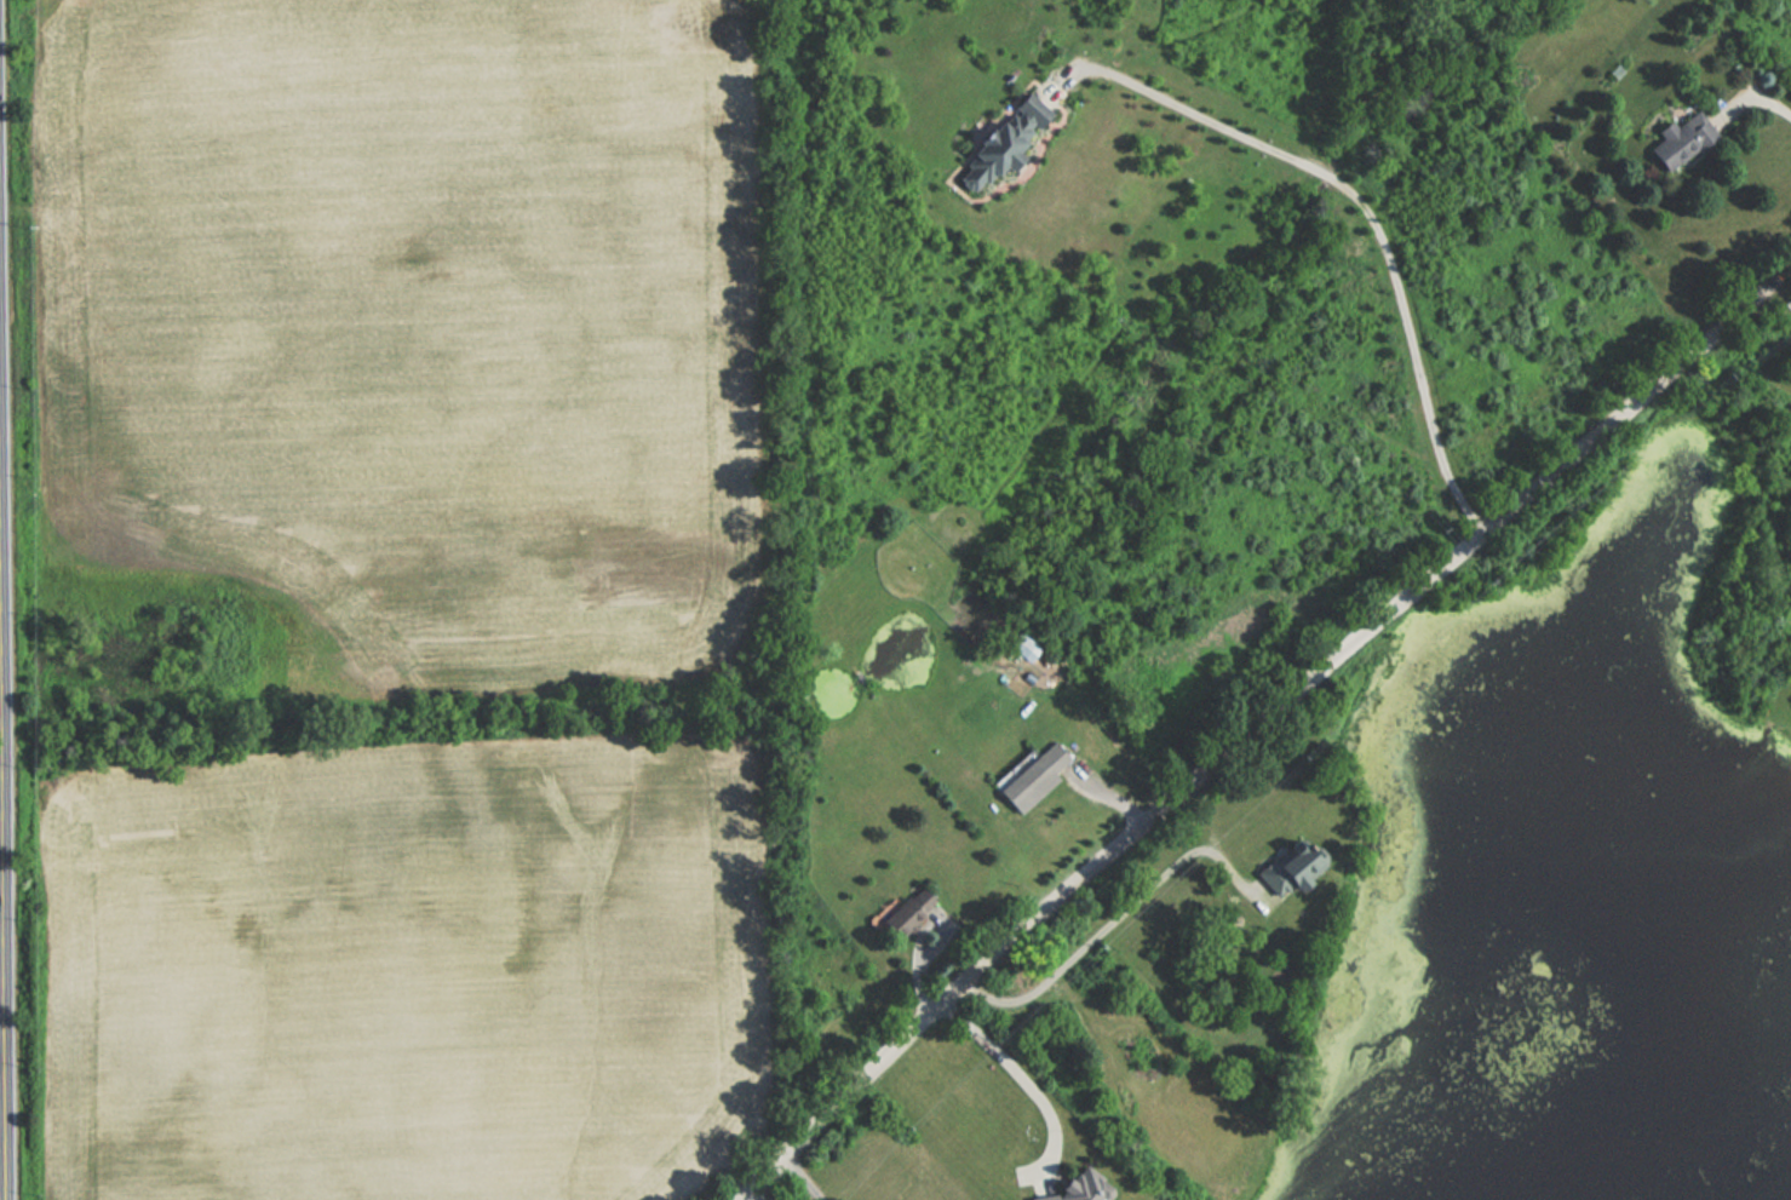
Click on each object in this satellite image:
road: (1757, 99)
road: (1188, 101)
building: (1680, 140)
building: (994, 148)
road: (1333, 172)
crop: (403, 323)
road: (1416, 352)
road: (1261, 729)
building: (1031, 776)
road: (5, 822)
building: (1287, 869)
building: (906, 913)
road: (1112, 923)
crop: (411, 975)
road: (1, 1050)
road: (1, 1076)
road: (1020, 1080)
road: (802, 1178)
building: (1064, 1190)
road: (762, 1193)

